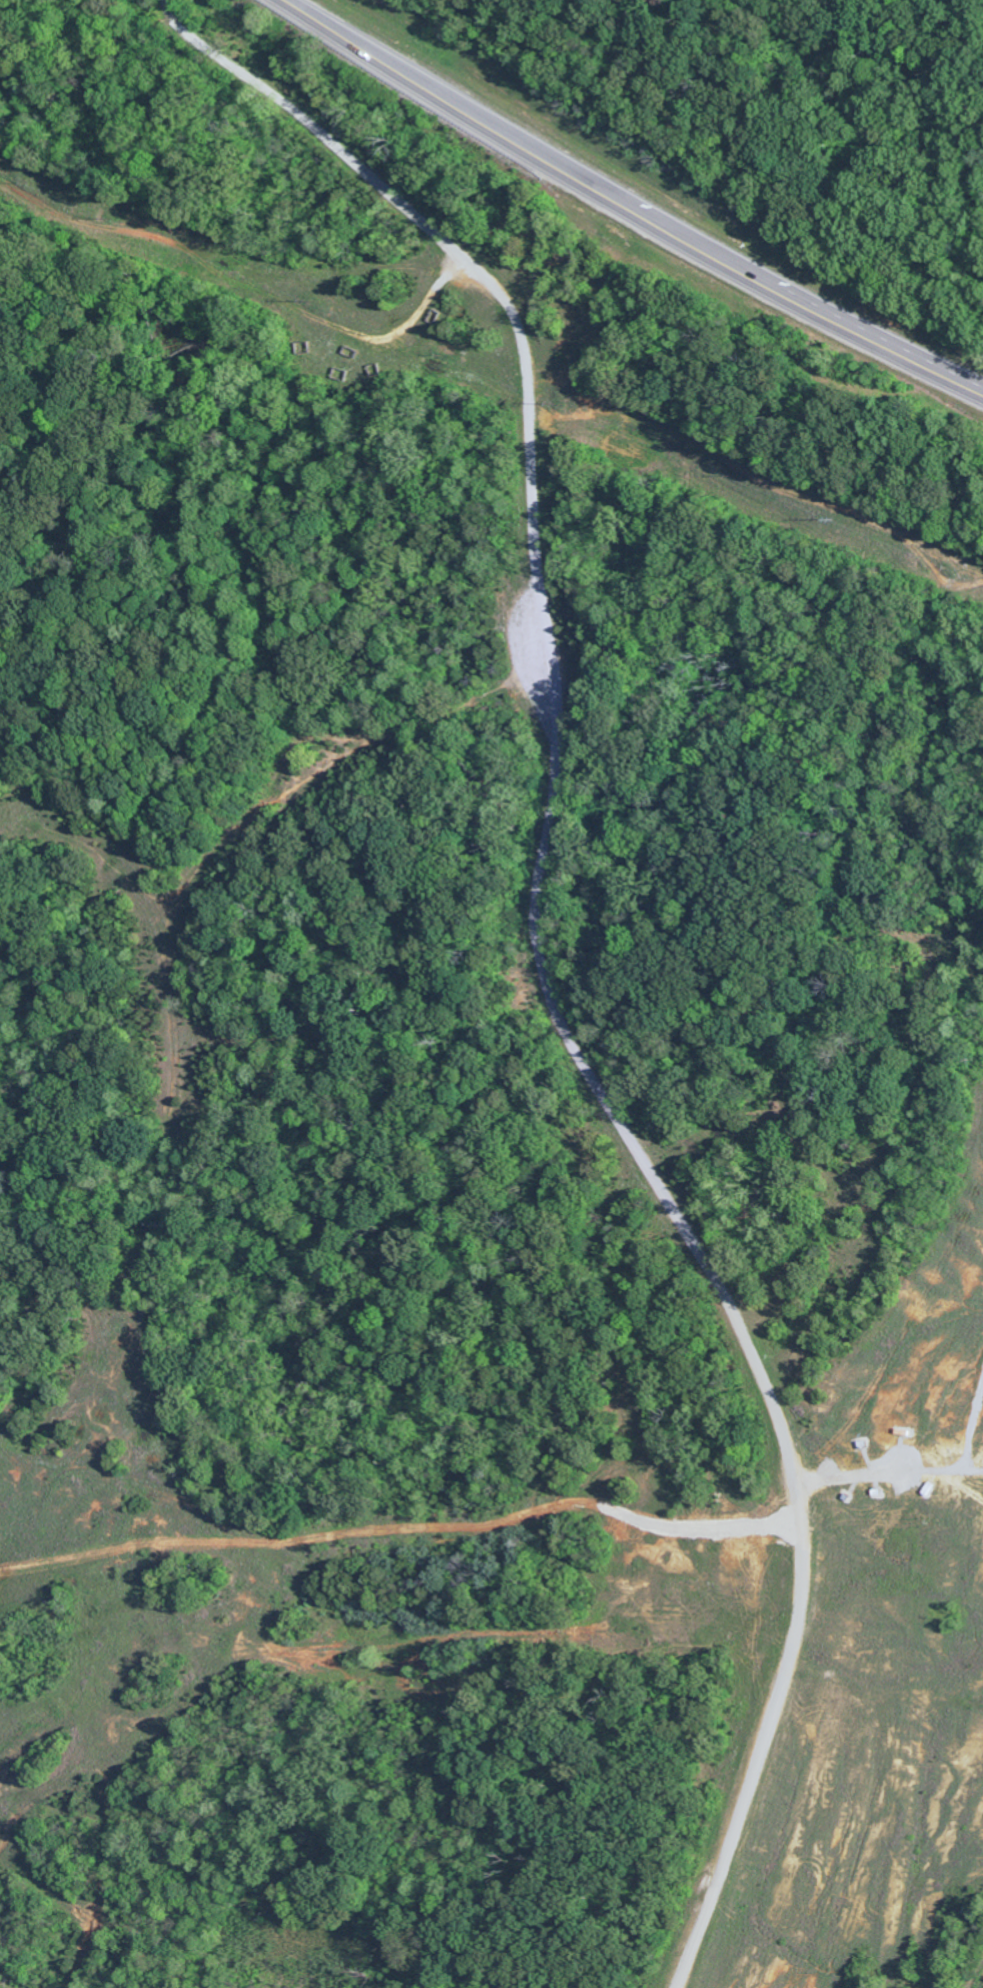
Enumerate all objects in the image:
road: (627, 209)
road: (542, 954)
road: (856, 1475)

